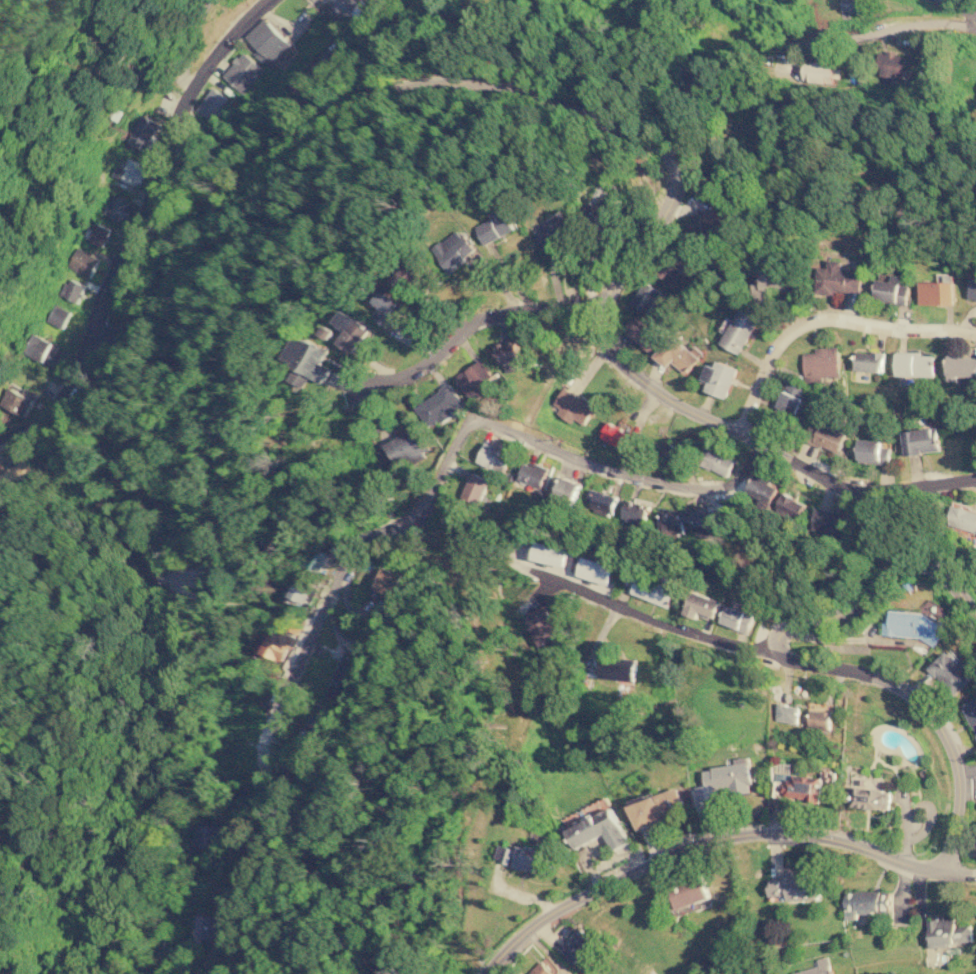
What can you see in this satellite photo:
building: (851, 5)
building: (345, 8)
road: (955, 10)
road: (881, 32)
road: (316, 61)
building: (891, 64)
building: (243, 71)
building: (820, 71)
building: (213, 104)
road: (334, 112)
building: (145, 131)
building: (134, 171)
building: (118, 206)
building: (713, 221)
road: (138, 222)
building: (493, 226)
building: (551, 229)
building: (97, 233)
building: (455, 249)
building: (669, 270)
building: (405, 276)
building: (836, 278)
building: (773, 285)
building: (972, 286)
building: (891, 289)
building: (931, 291)
building: (645, 296)
building: (388, 308)
road: (824, 318)
road: (463, 328)
building: (739, 329)
building: (349, 330)
building: (643, 334)
building: (507, 351)
building: (676, 353)
building: (869, 360)
building: (820, 363)
building: (914, 363)
building: (960, 368)
building: (718, 377)
building: (472, 379)
building: (18, 399)
building: (788, 400)
road: (677, 402)
building: (439, 405)
building: (572, 405)
building: (624, 426)
building: (614, 435)
building: (829, 437)
building: (920, 440)
road: (451, 446)
building: (402, 449)
building: (872, 450)
building: (673, 453)
building: (493, 457)
building: (716, 460)
building: (532, 473)
building: (475, 487)
building: (566, 489)
building: (761, 490)
building: (600, 501)
building: (788, 506)
building: (634, 512)
building: (961, 516)
building: (712, 518)
building: (829, 519)
building: (672, 521)
building: (459, 524)
building: (552, 553)
building: (596, 569)
building: (387, 580)
road: (876, 581)
building: (303, 589)
building: (653, 590)
road: (204, 595)
building: (701, 604)
building: (376, 613)
road: (647, 615)
building: (736, 617)
building: (542, 626)
building: (912, 627)
building: (277, 647)
building: (616, 668)
building: (949, 672)
building: (345, 677)
road: (923, 710)
building: (971, 712)
building: (788, 713)
building: (819, 714)
building: (318, 724)
road: (269, 733)
building: (722, 780)
building: (805, 785)
building: (685, 796)
building: (868, 797)
building: (656, 807)
building: (597, 829)
building: (210, 834)
road: (712, 838)
building: (524, 857)
building: (794, 886)
building: (691, 892)
building: (866, 901)
building: (208, 927)
building: (948, 931)
building: (577, 945)
building: (540, 968)

